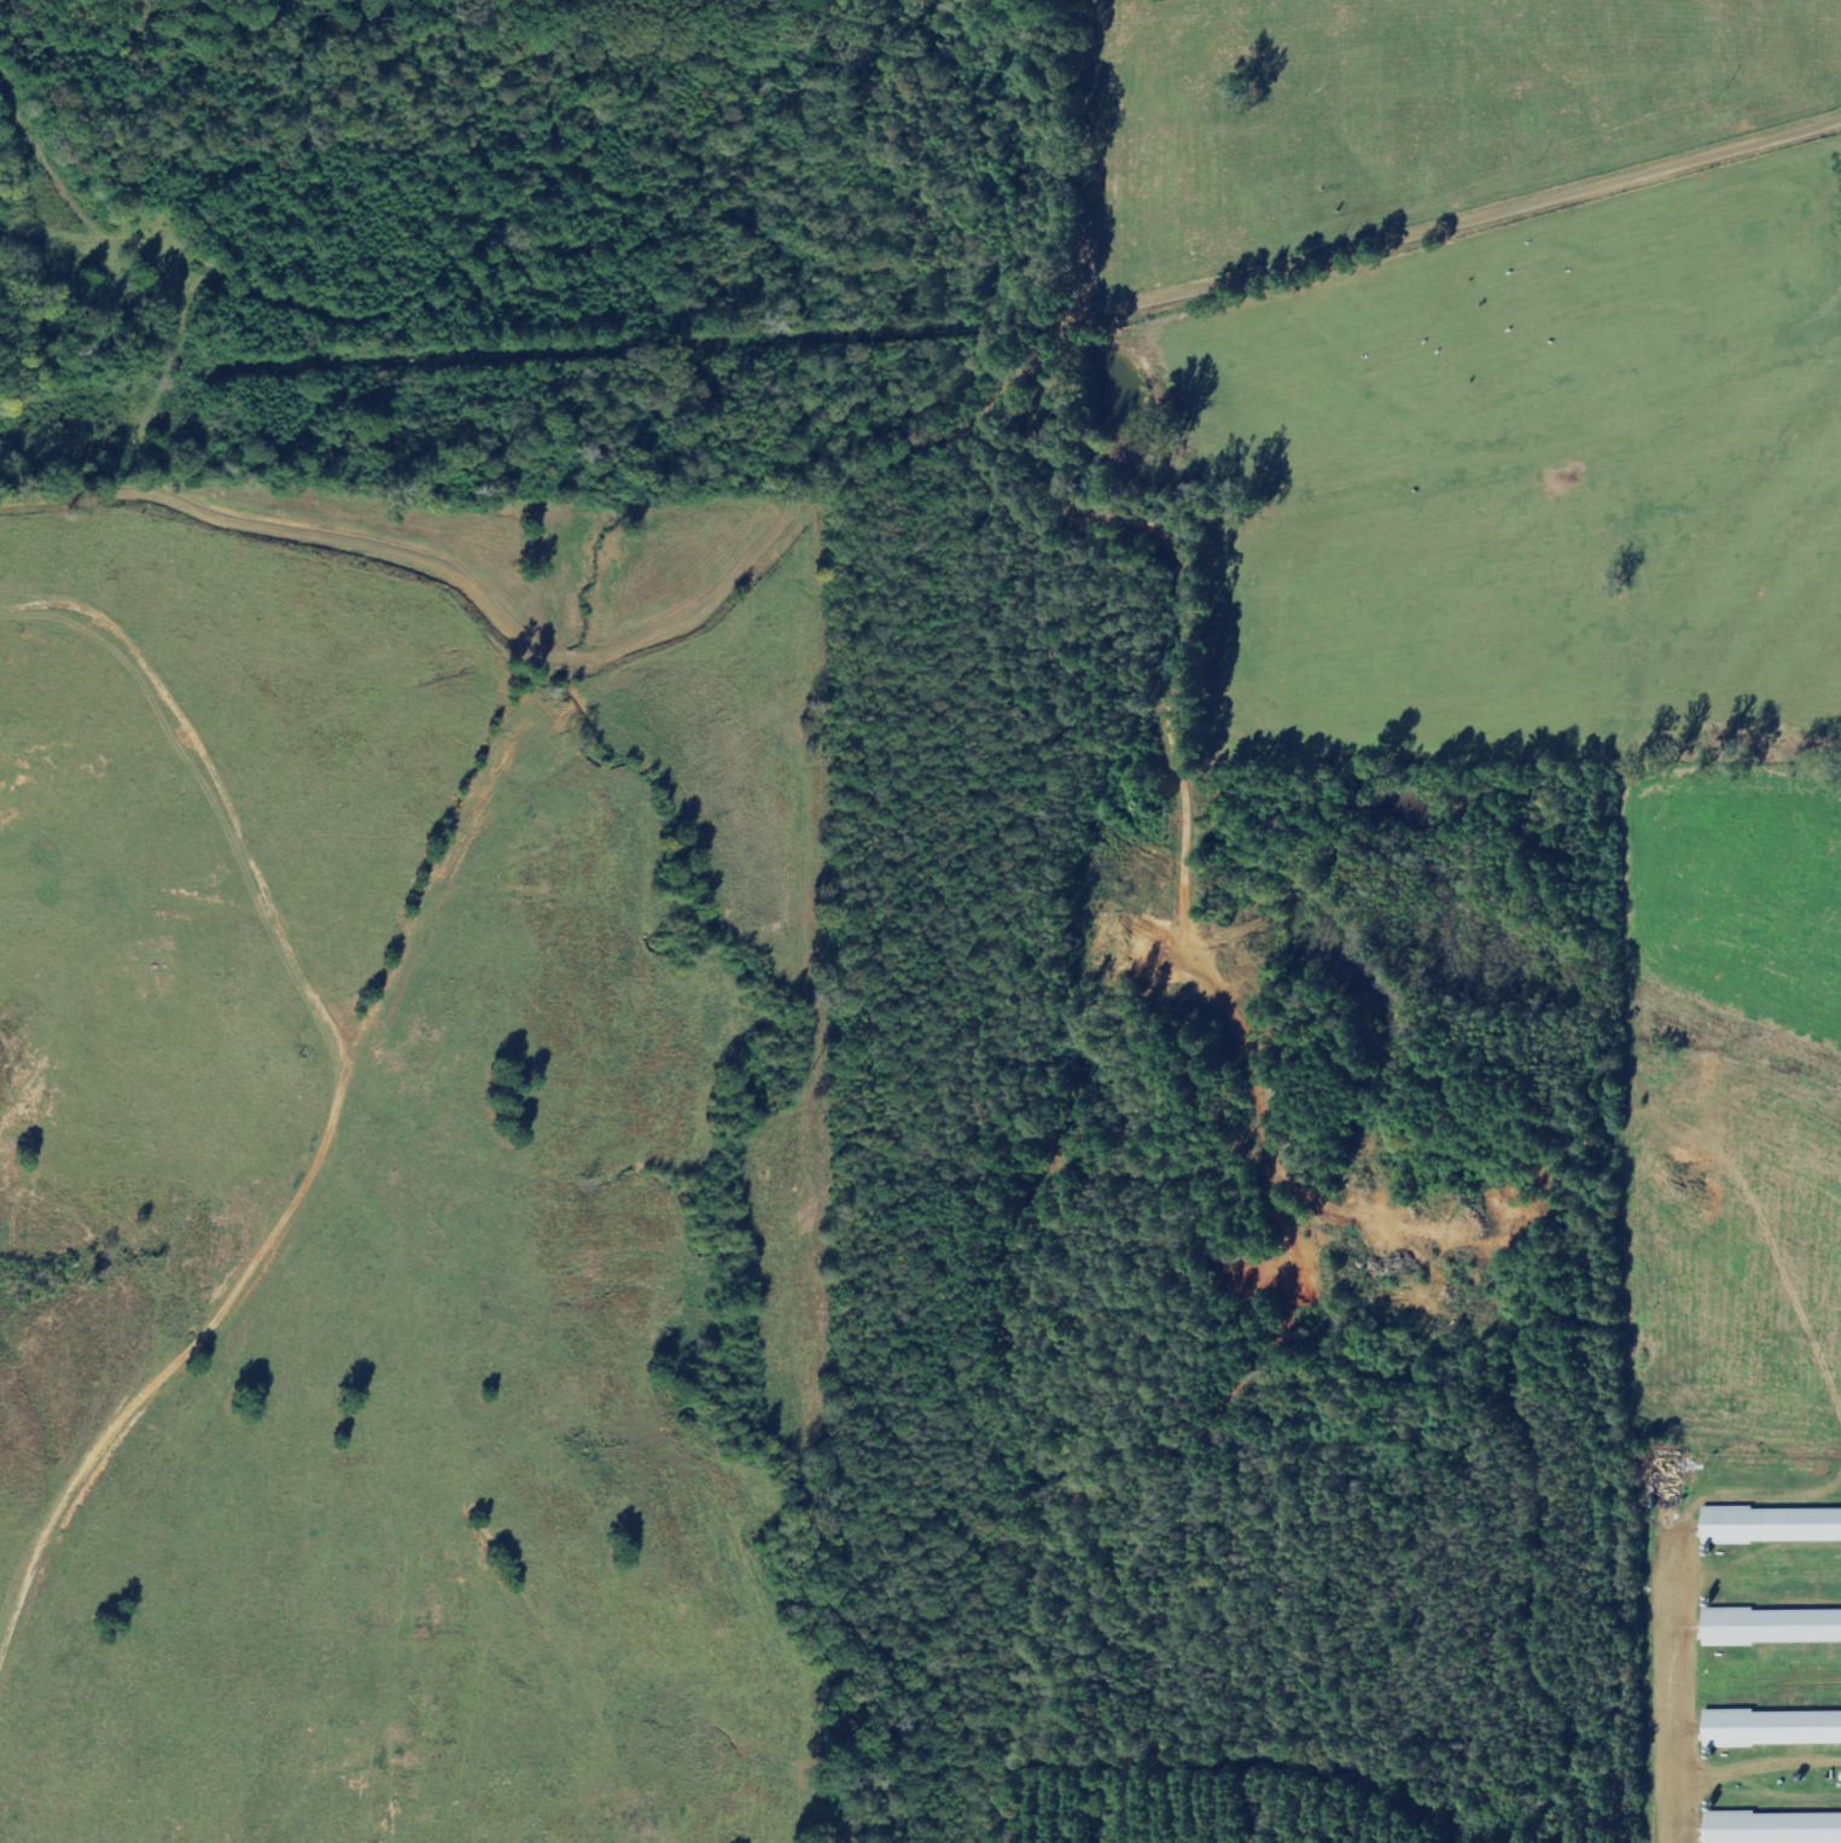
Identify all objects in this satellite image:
road: (1194, 331)
road: (260, 558)
road: (579, 681)
road: (282, 1261)
building: (1668, 1483)
building: (1773, 1527)
building: (1773, 1628)
road: (1690, 1687)
building: (1775, 1729)
building: (1776, 1829)

